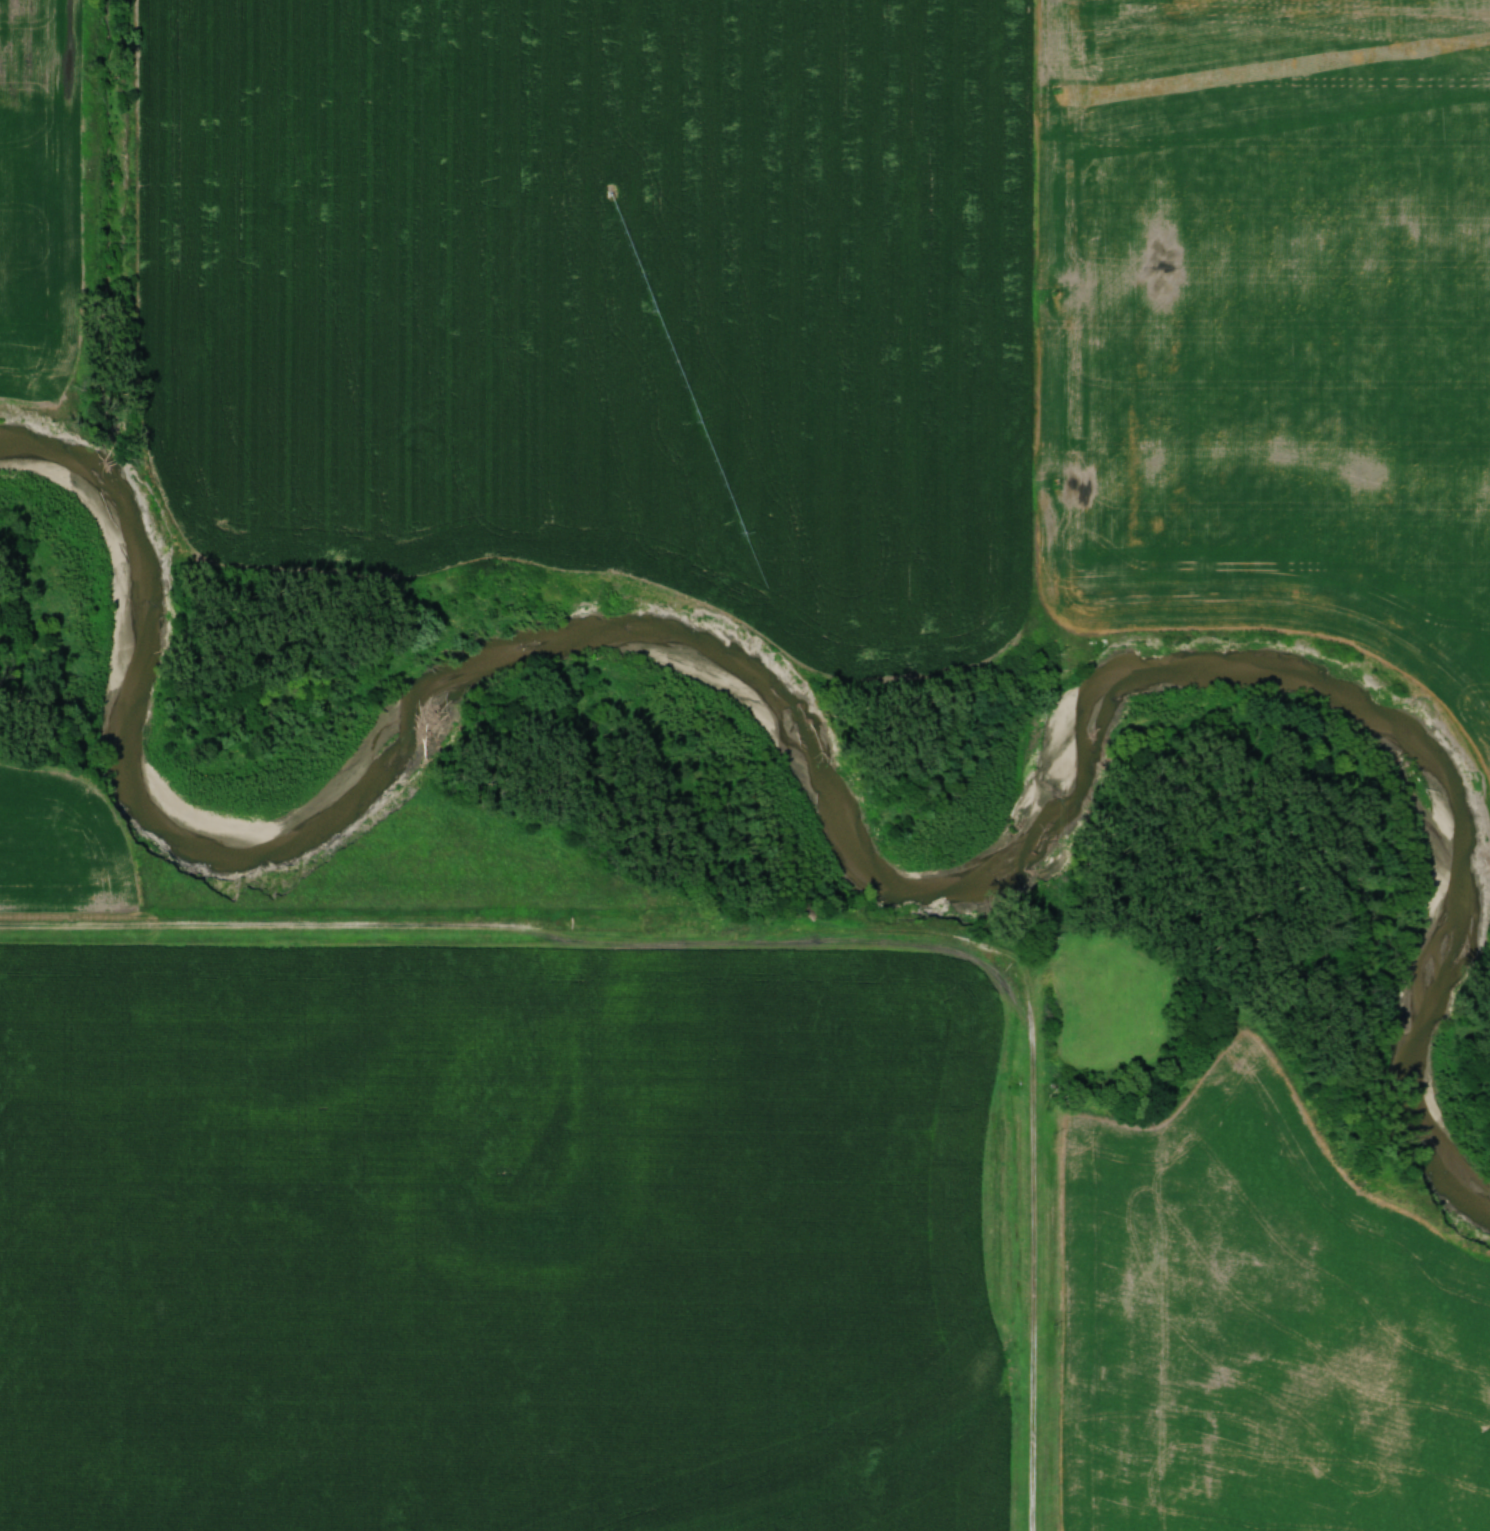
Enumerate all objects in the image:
river: (825, 799)
road: (505, 925)
road: (1034, 1240)

